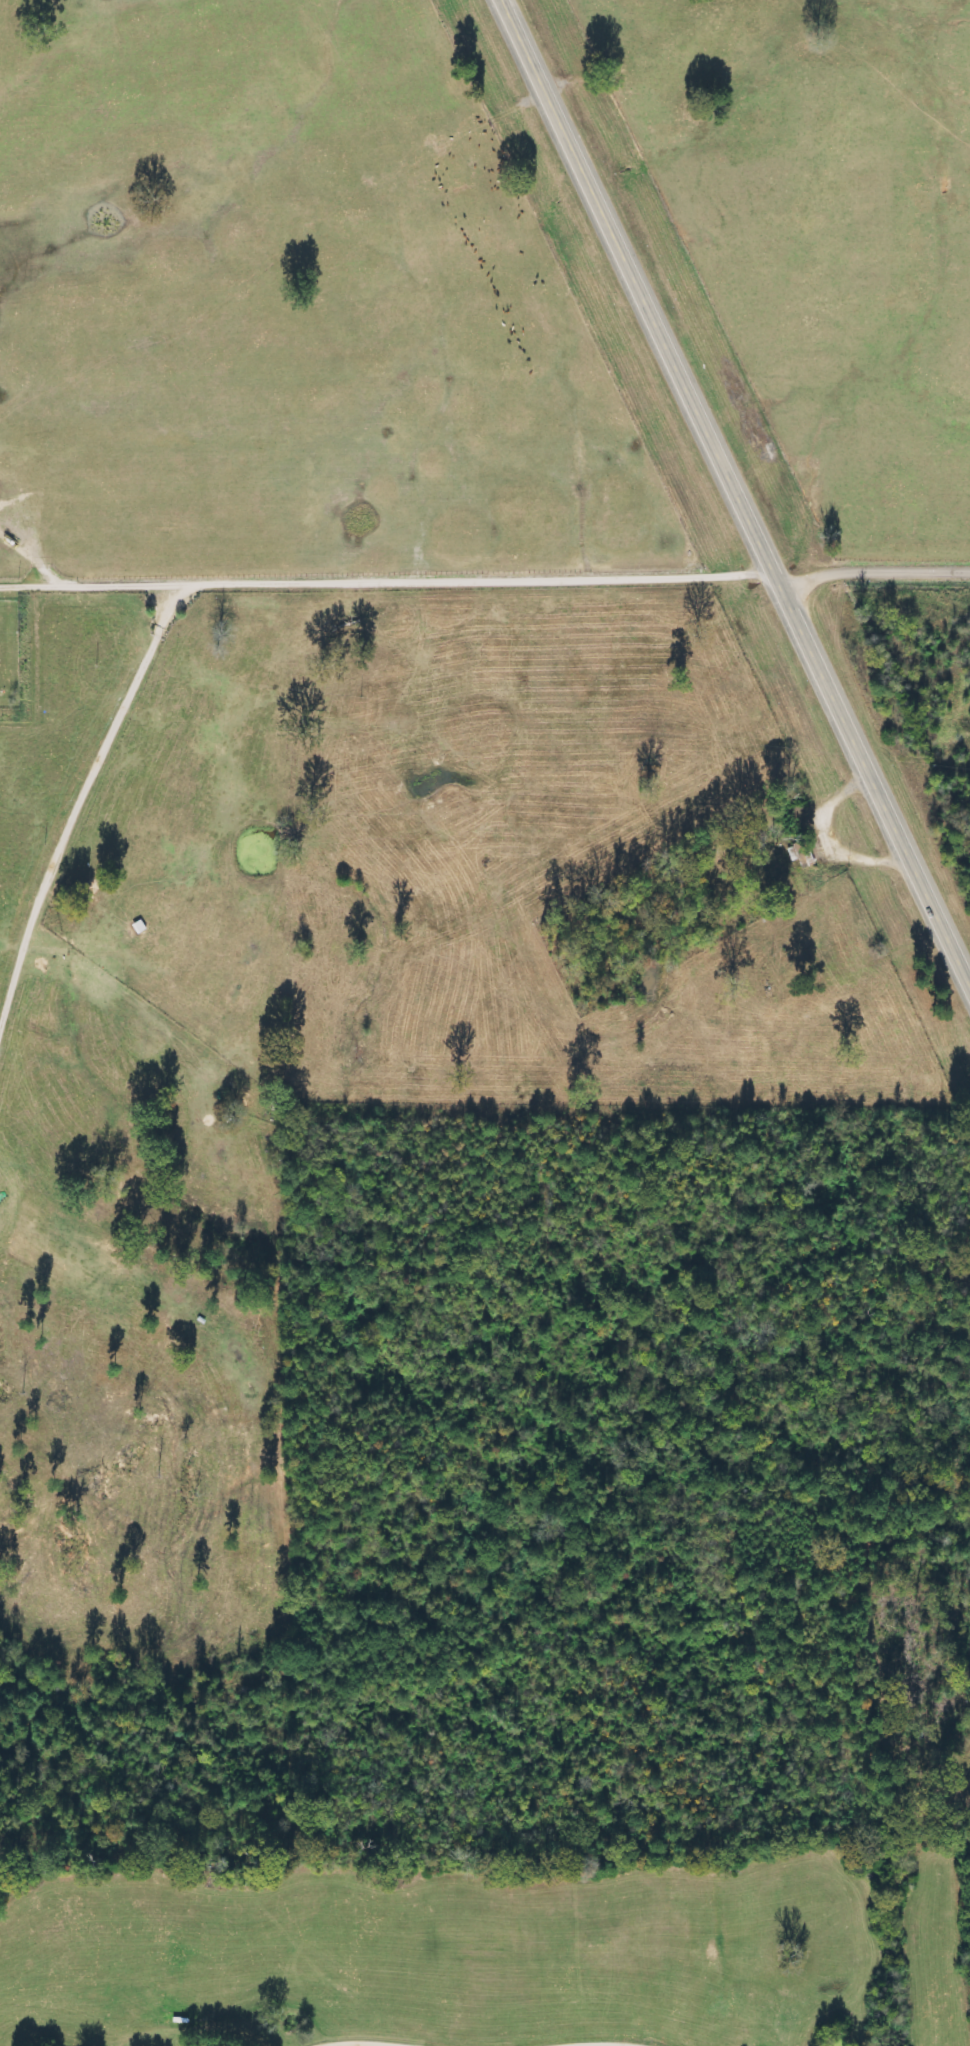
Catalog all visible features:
road: (735, 494)
road: (873, 571)
road: (390, 605)

